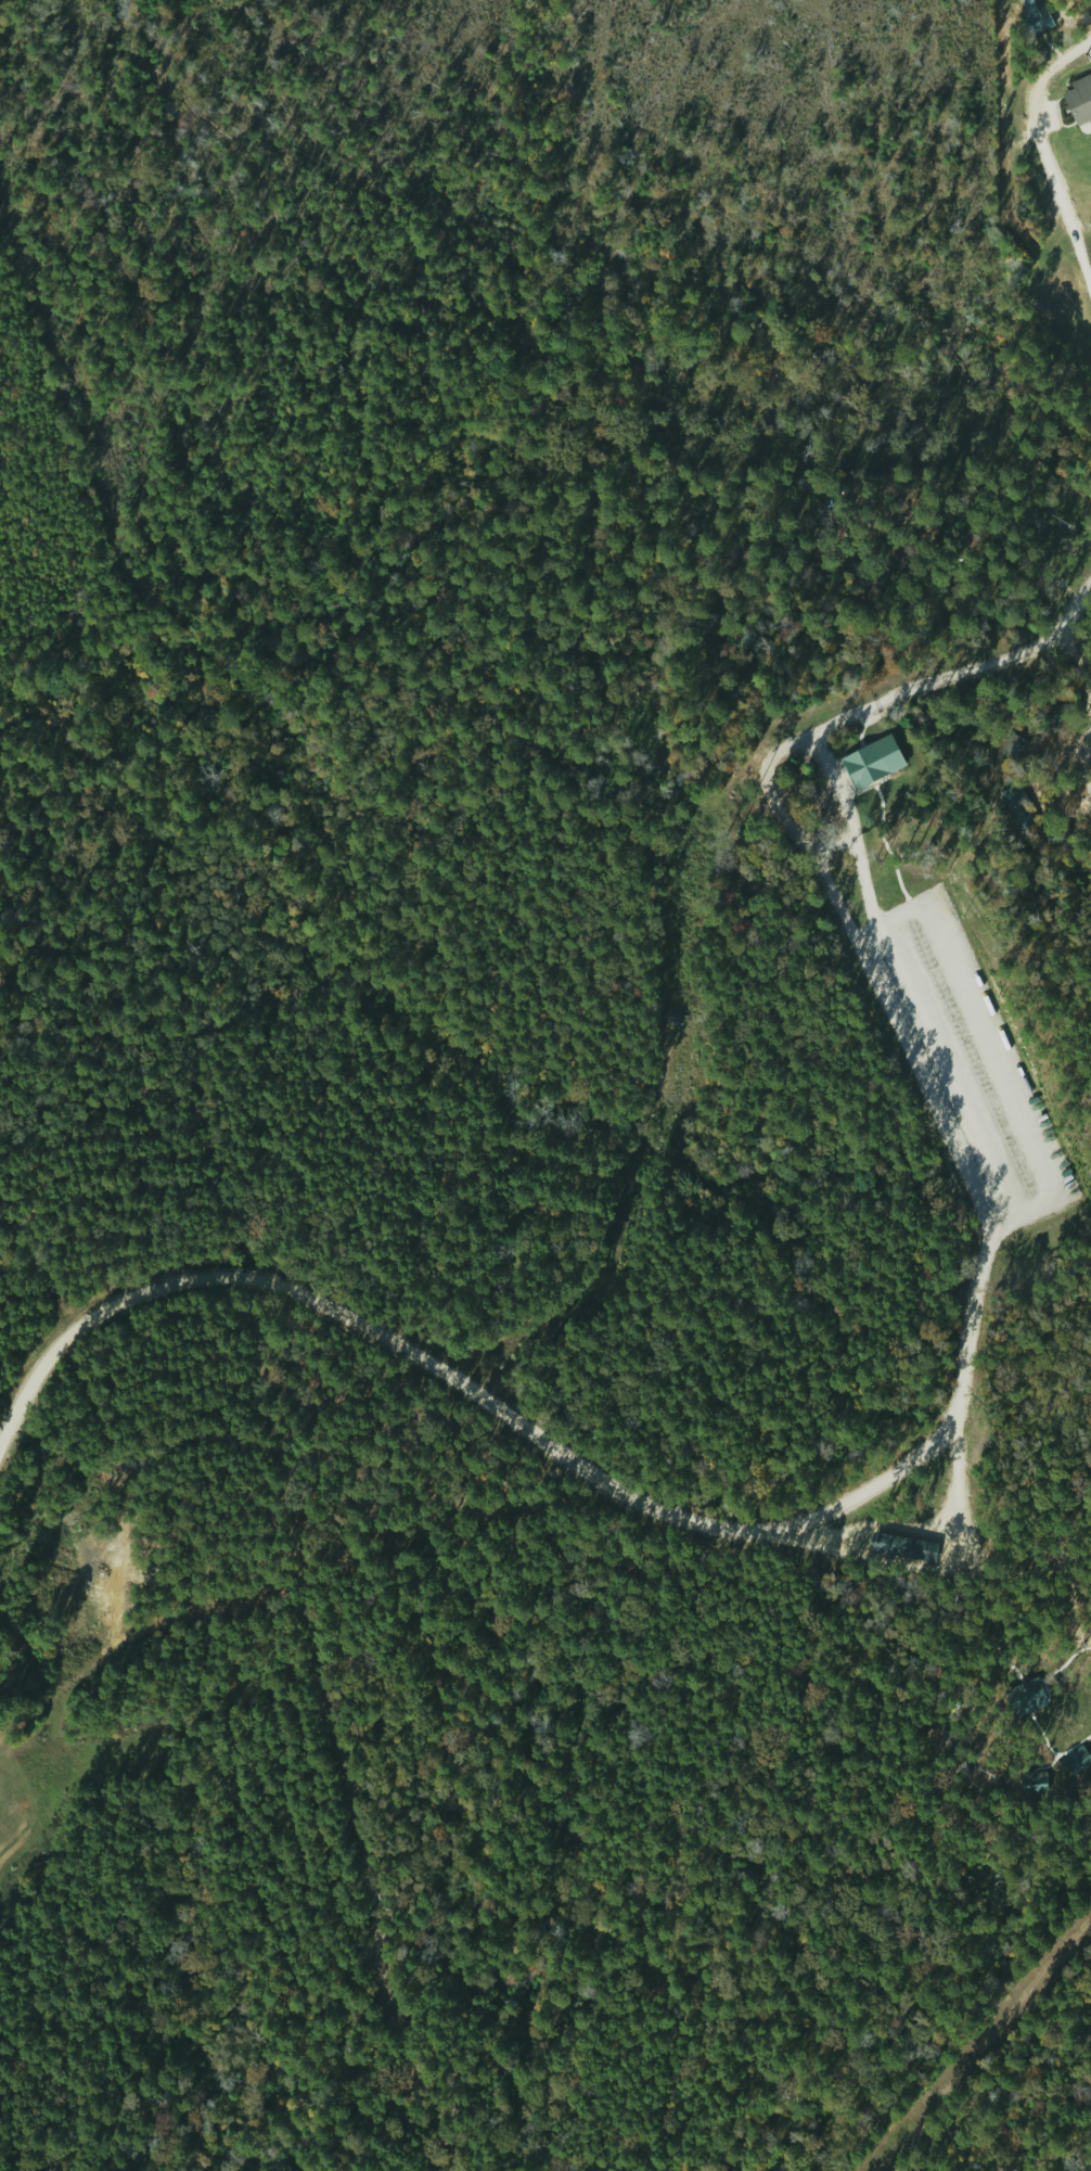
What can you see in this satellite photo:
building: (1034, 13)
building: (1079, 99)
road: (1041, 179)
road: (105, 651)
building: (1010, 748)
road: (869, 966)
road: (925, 1446)

